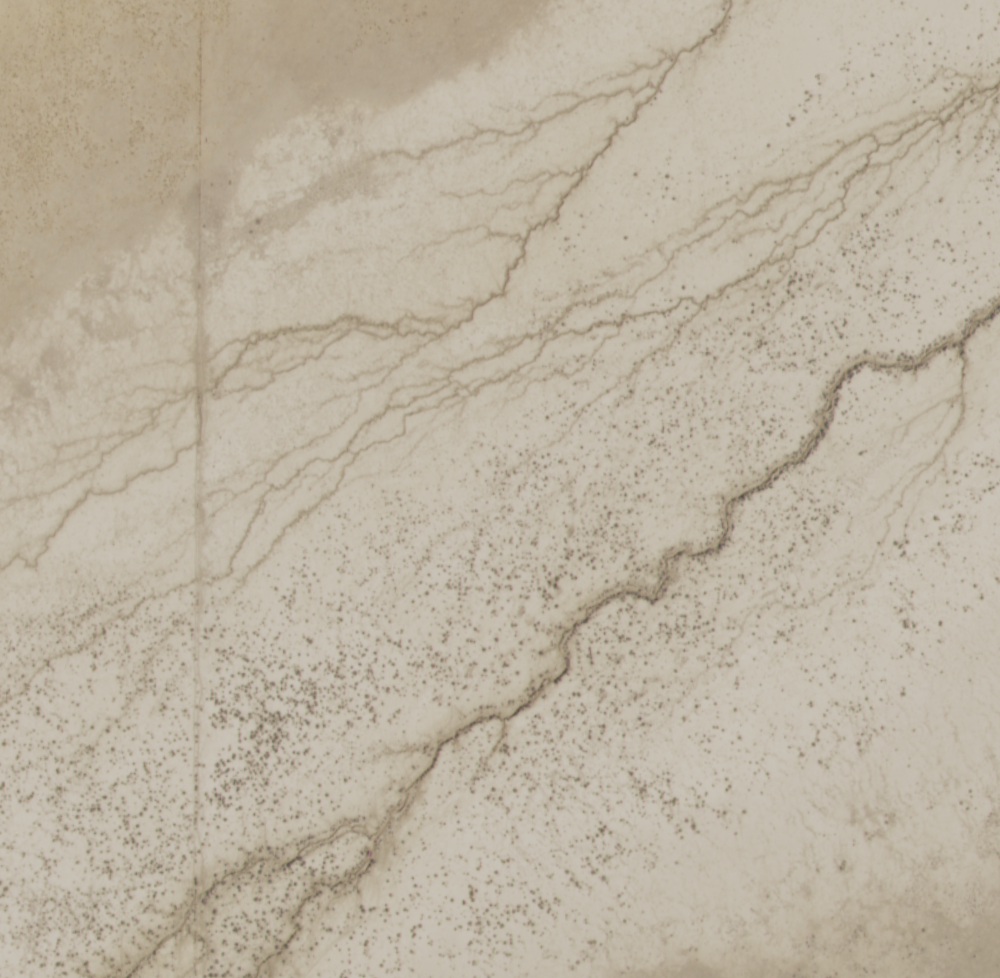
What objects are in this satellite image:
river: (552, 651)

